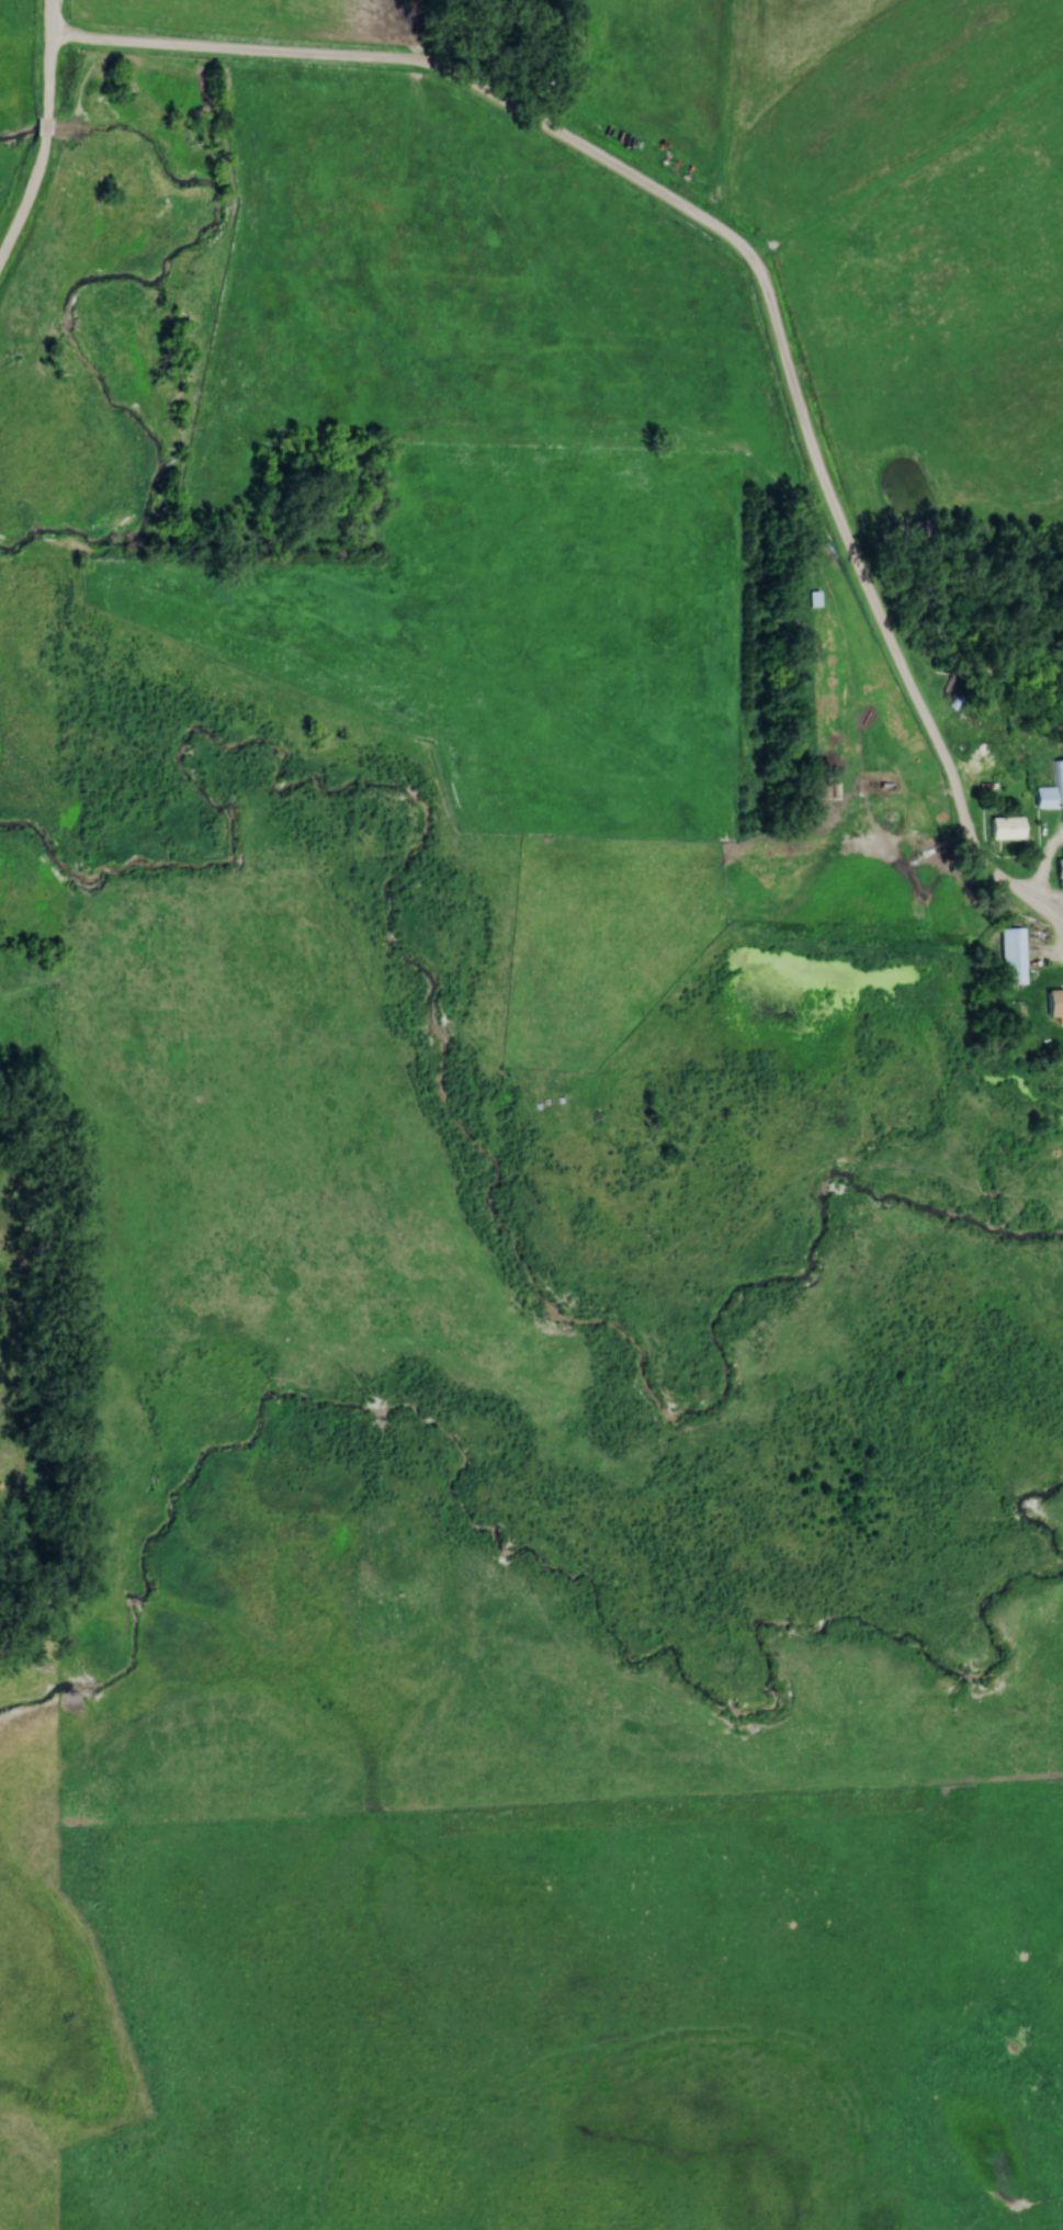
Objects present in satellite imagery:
road: (47, 57)
road: (45, 128)
road: (26, 202)
road: (708, 226)
river: (83, 279)
building: (1058, 784)
building: (1002, 827)
building: (1058, 867)
building: (1006, 956)
building: (1051, 1002)
river: (441, 1079)

